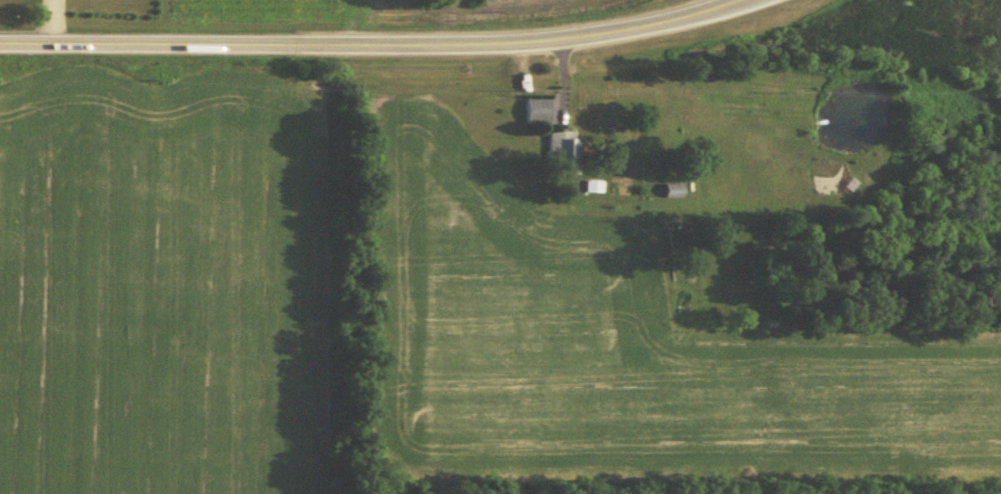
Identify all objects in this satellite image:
road: (370, 44)
building: (536, 109)
building: (562, 145)
building: (594, 184)
building: (672, 188)

